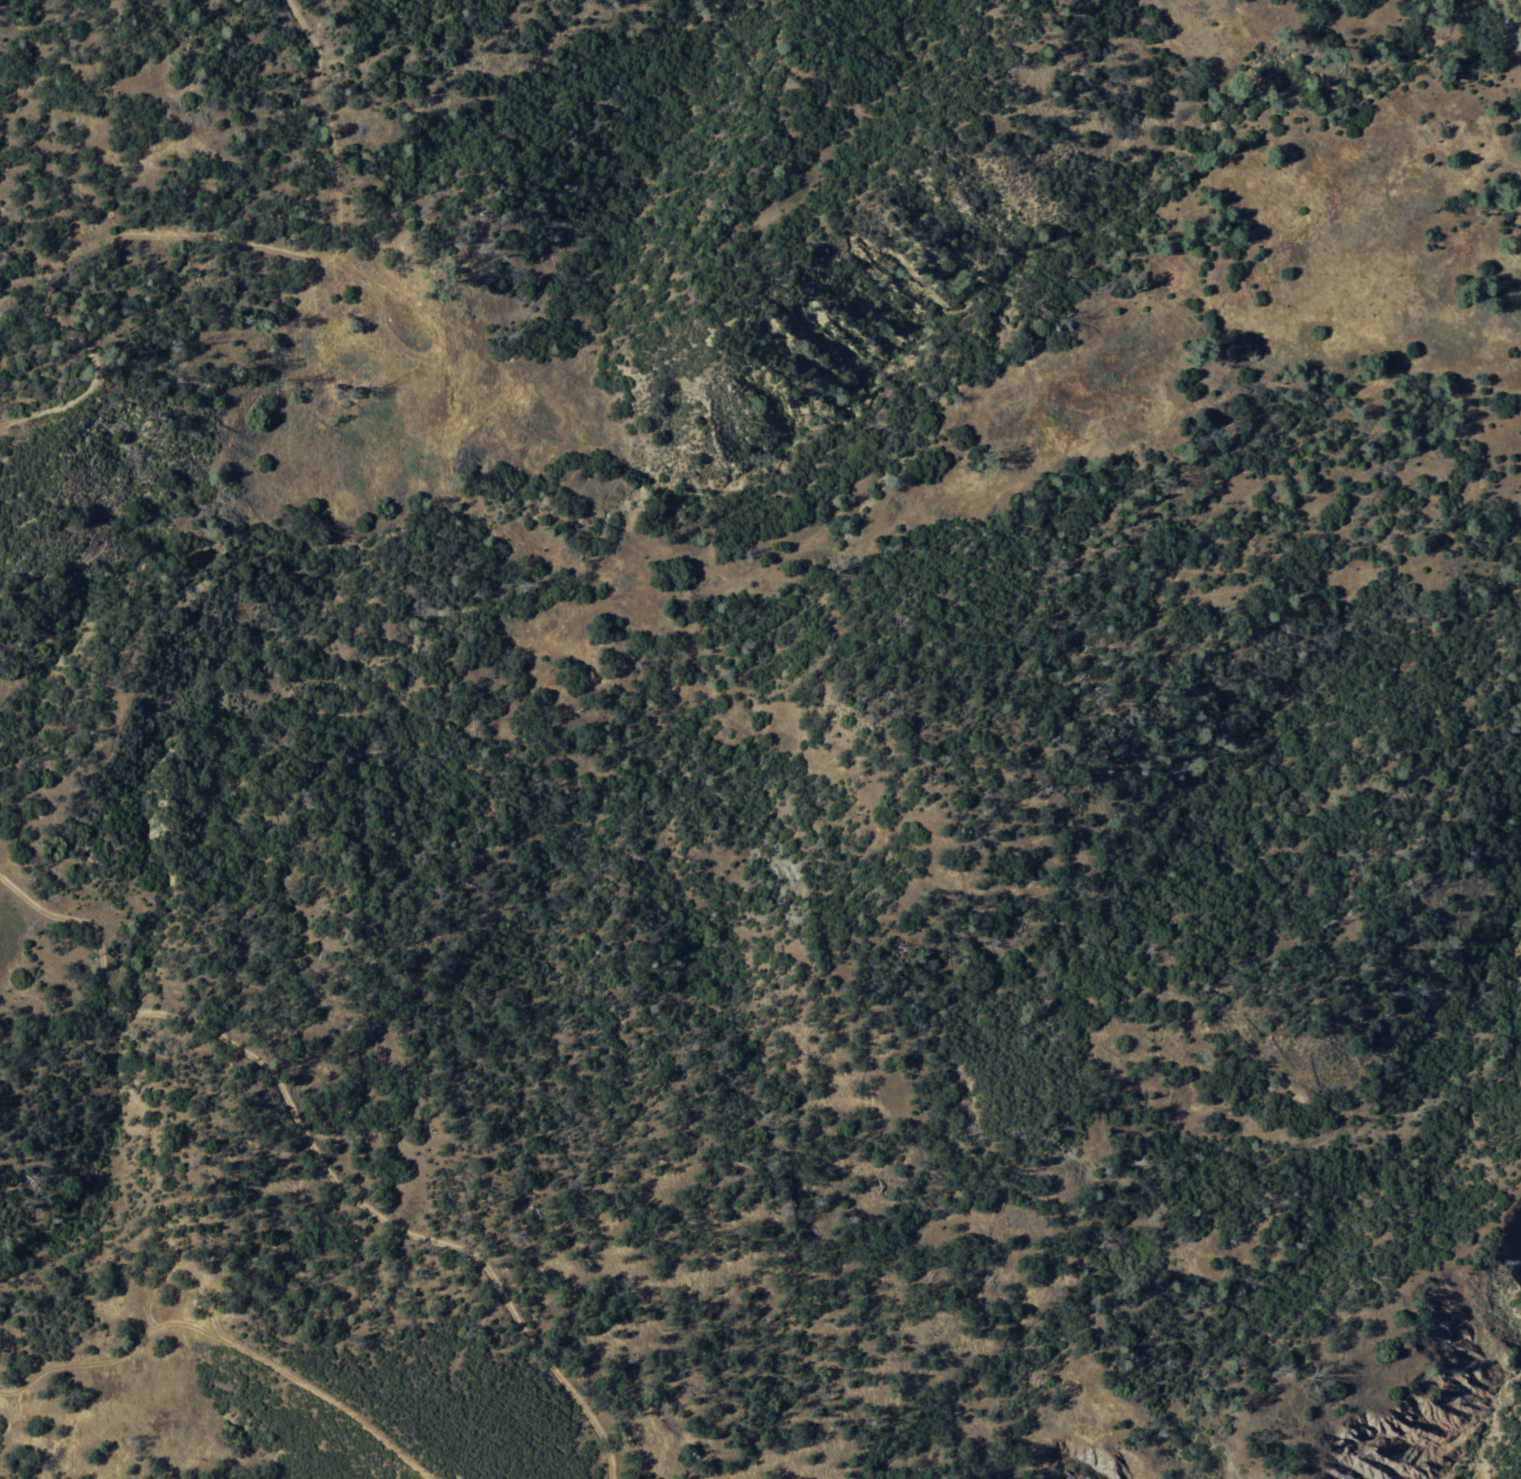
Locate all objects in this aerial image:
road: (1506, 22)

